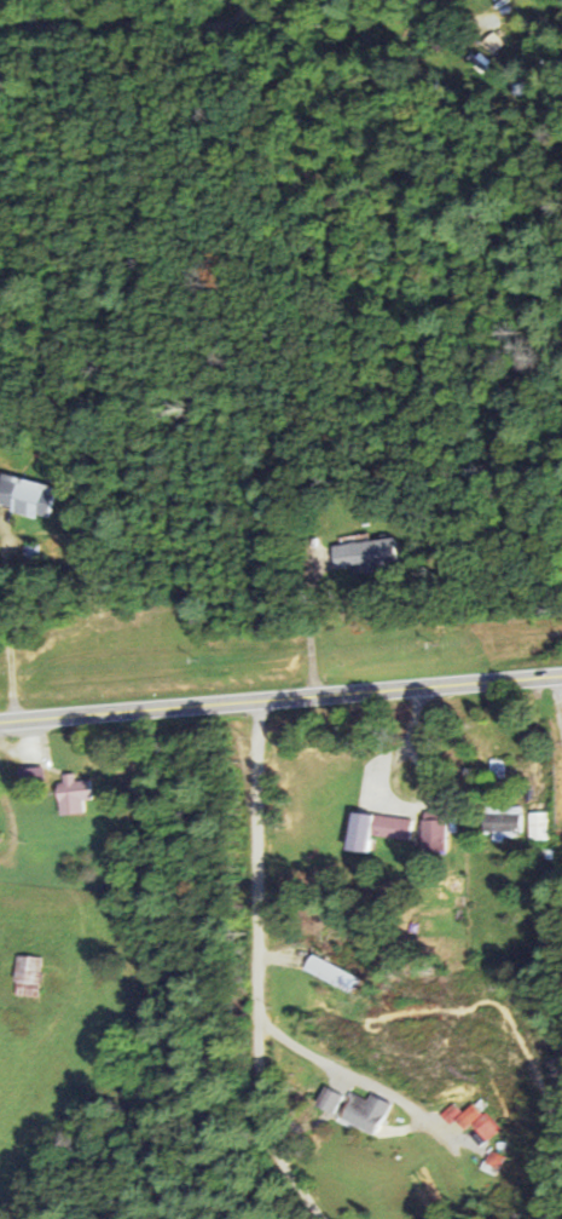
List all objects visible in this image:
road: (122, 18)
building: (27, 496)
building: (364, 556)
road: (280, 703)
building: (30, 777)
building: (73, 793)
building: (502, 820)
building: (537, 826)
building: (376, 829)
building: (434, 832)
road: (255, 971)
building: (331, 974)
building: (27, 976)
building: (358, 1110)

